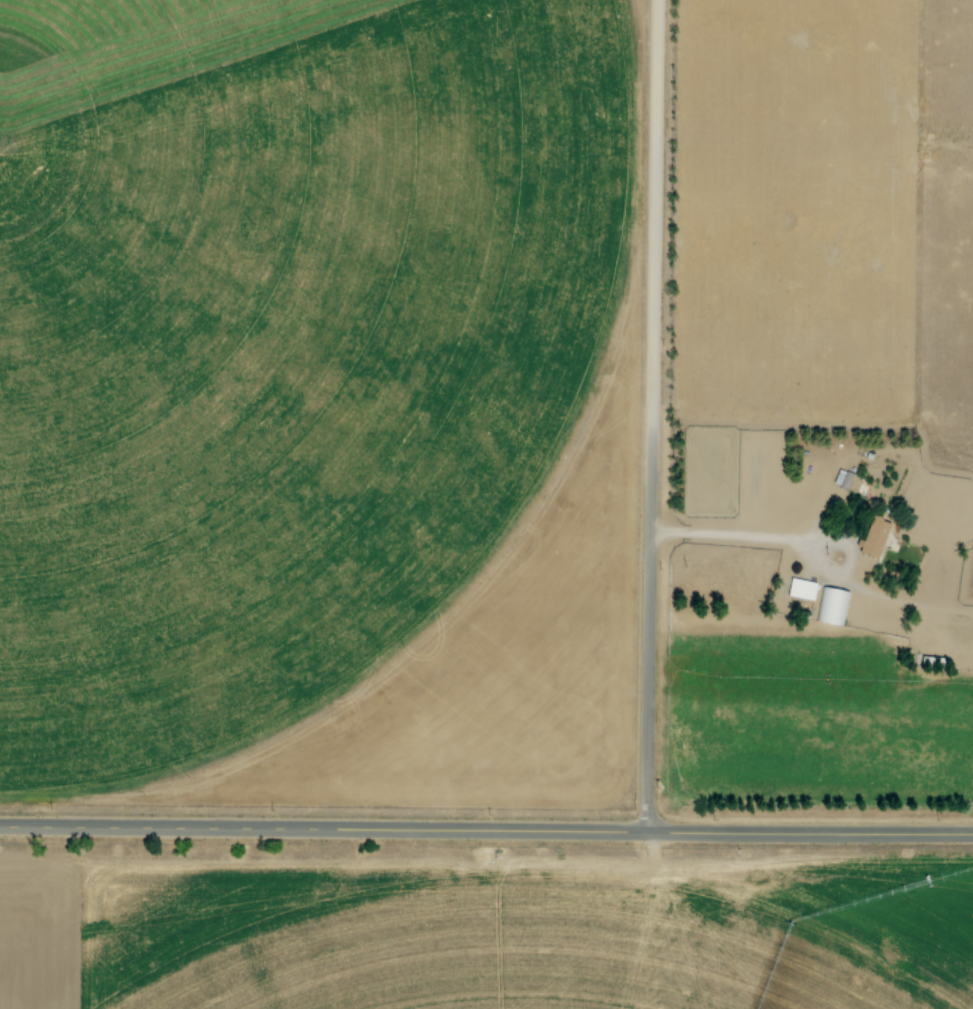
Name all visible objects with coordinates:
road: (647, 416)
building: (841, 478)
building: (873, 536)
building: (800, 588)
building: (831, 606)
road: (486, 831)

